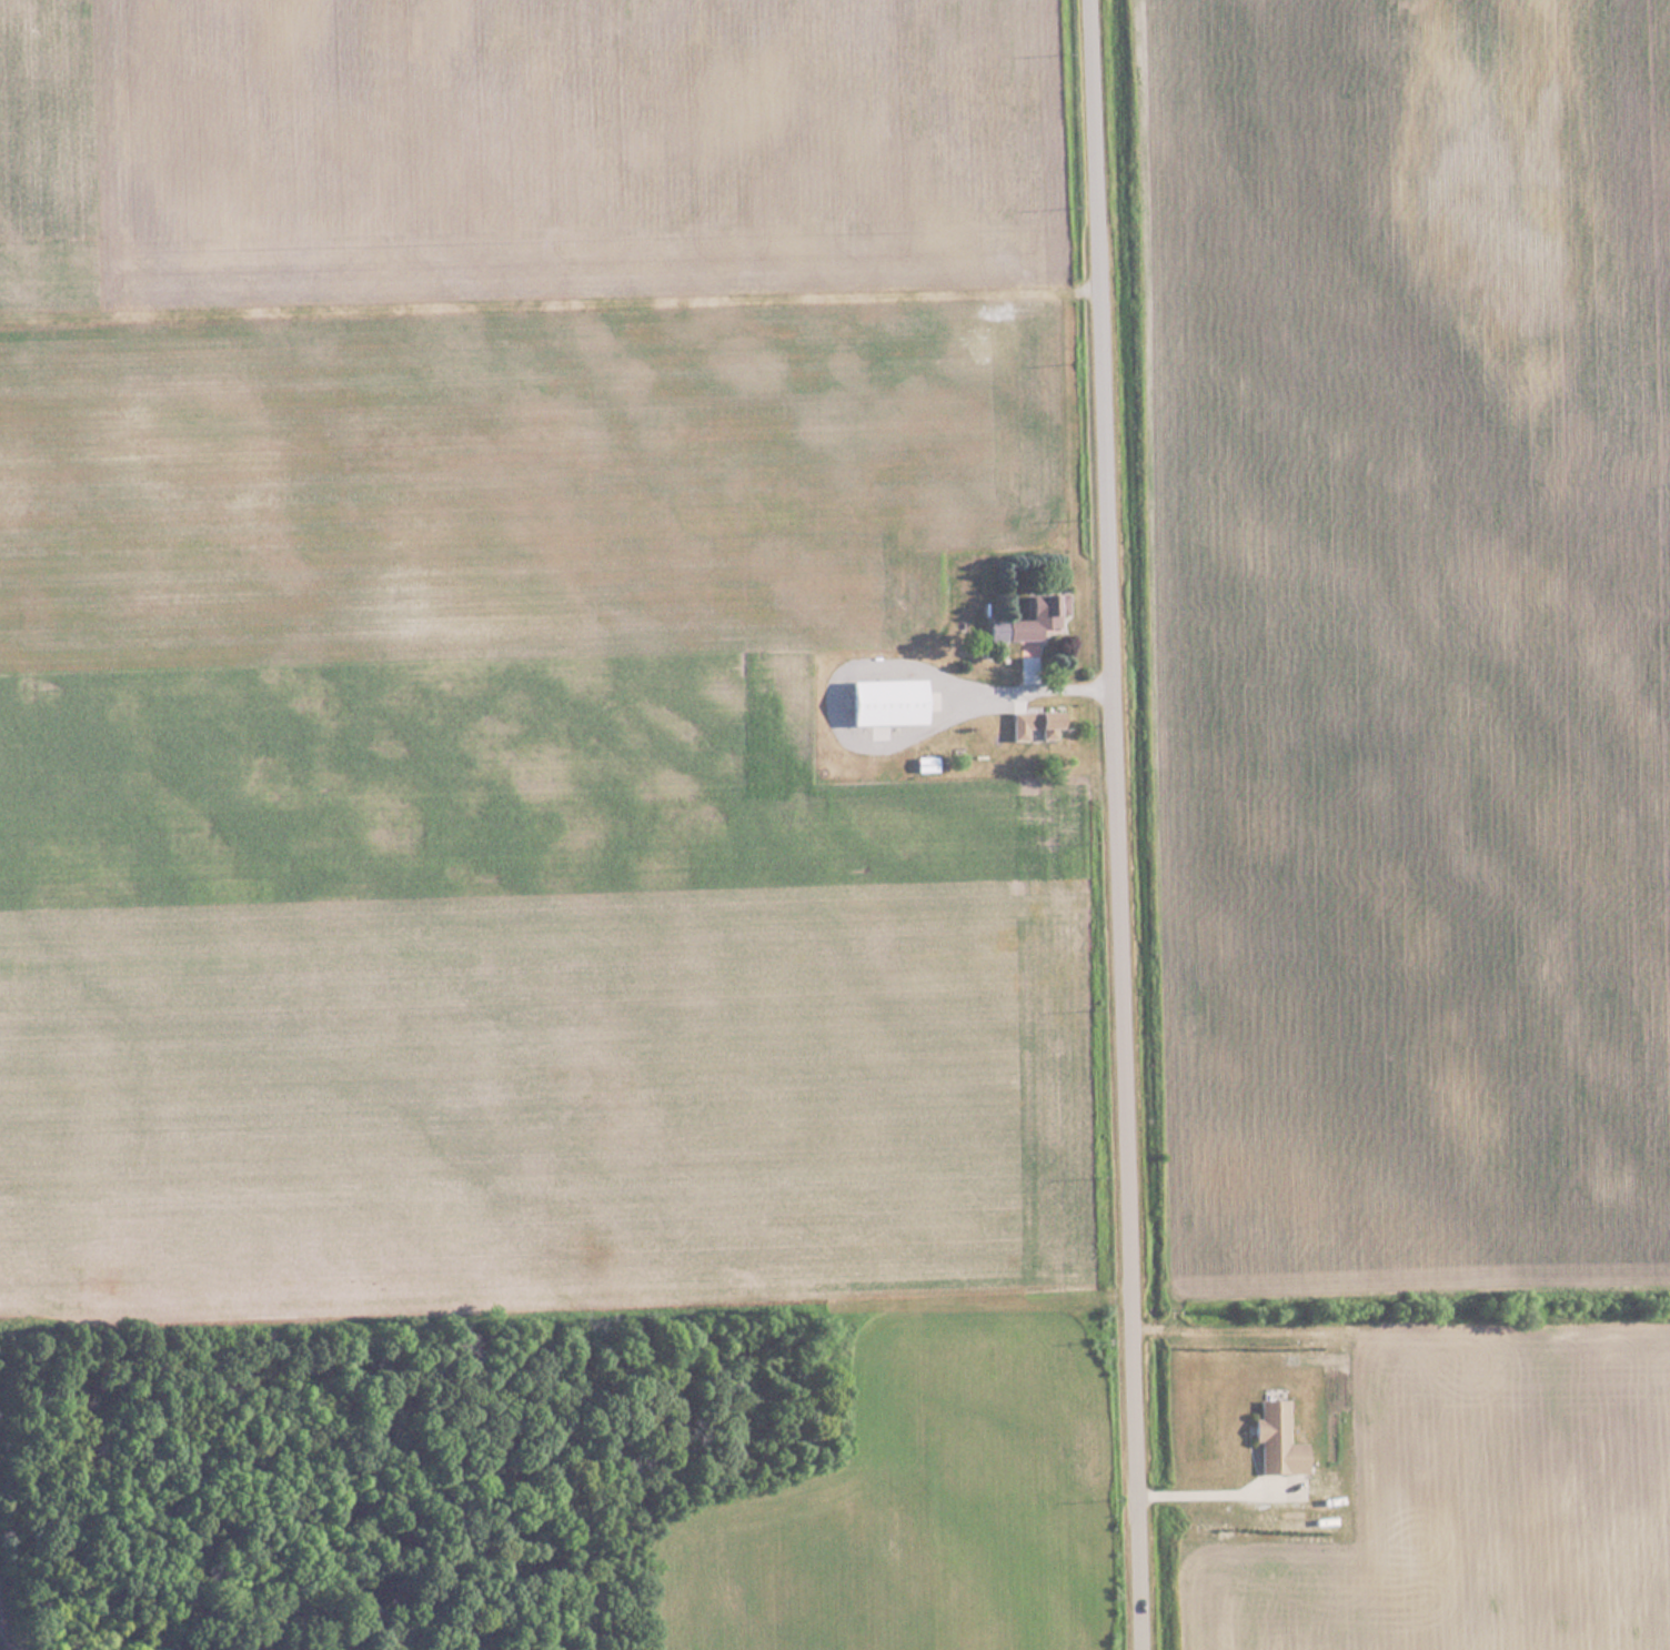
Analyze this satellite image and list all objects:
building: (1028, 622)
building: (882, 702)
building: (1032, 723)
road: (1114, 824)
building: (1275, 1439)
road: (1203, 1488)
building: (1435, 1604)

